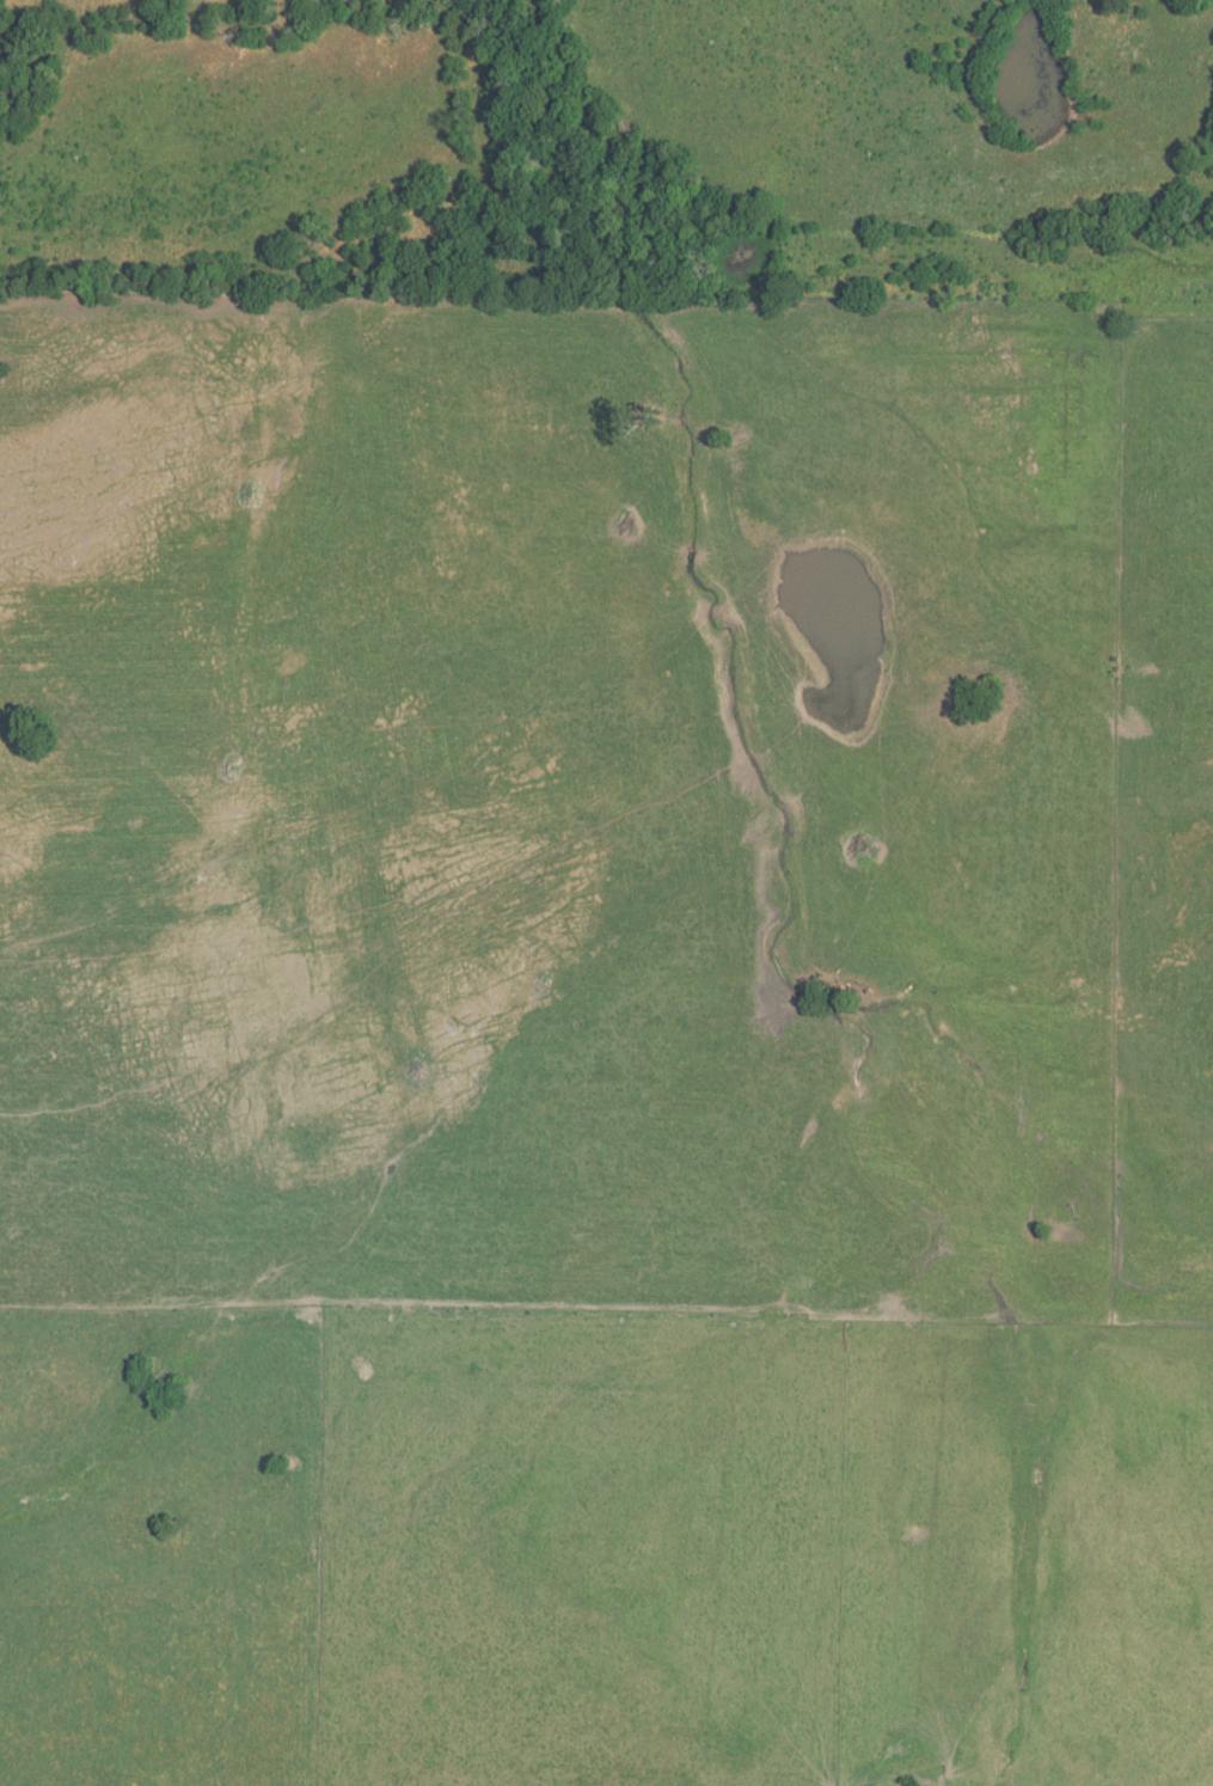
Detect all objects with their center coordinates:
road: (424, 1205)

